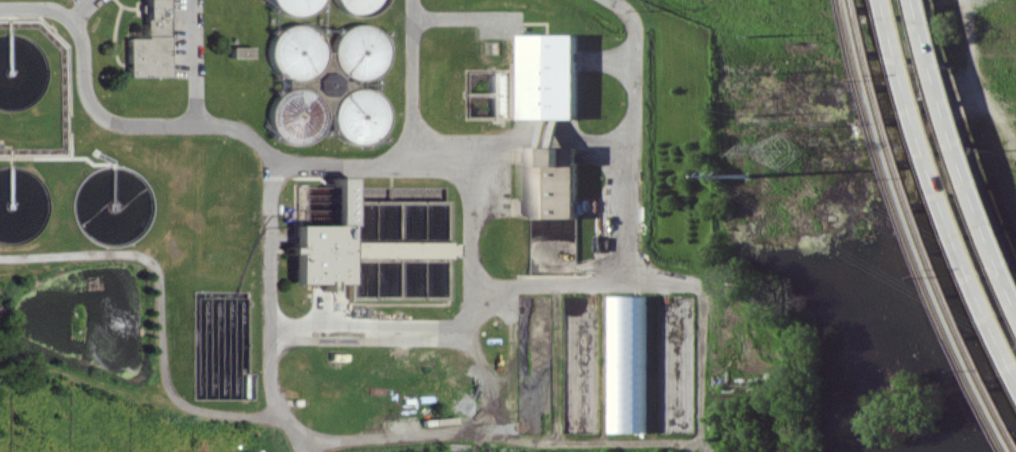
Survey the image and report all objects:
building: (293, 5)
building: (357, 5)
road: (80, 11)
road: (464, 18)
building: (150, 42)
building: (357, 47)
building: (294, 50)
building: (238, 53)
road: (985, 55)
road: (192, 63)
building: (555, 75)
road: (410, 81)
building: (323, 83)
building: (357, 112)
building: (293, 115)
road: (636, 134)
road: (549, 138)
road: (964, 140)
power tower: (781, 151)
road: (364, 164)
power tower: (748, 175)
road: (945, 177)
building: (553, 182)
railway: (921, 222)
wastewater plant: (362, 230)
railway: (914, 232)
building: (368, 245)
road: (154, 298)
road: (274, 314)
road: (392, 330)
building: (628, 363)
road: (693, 368)
road: (438, 430)

